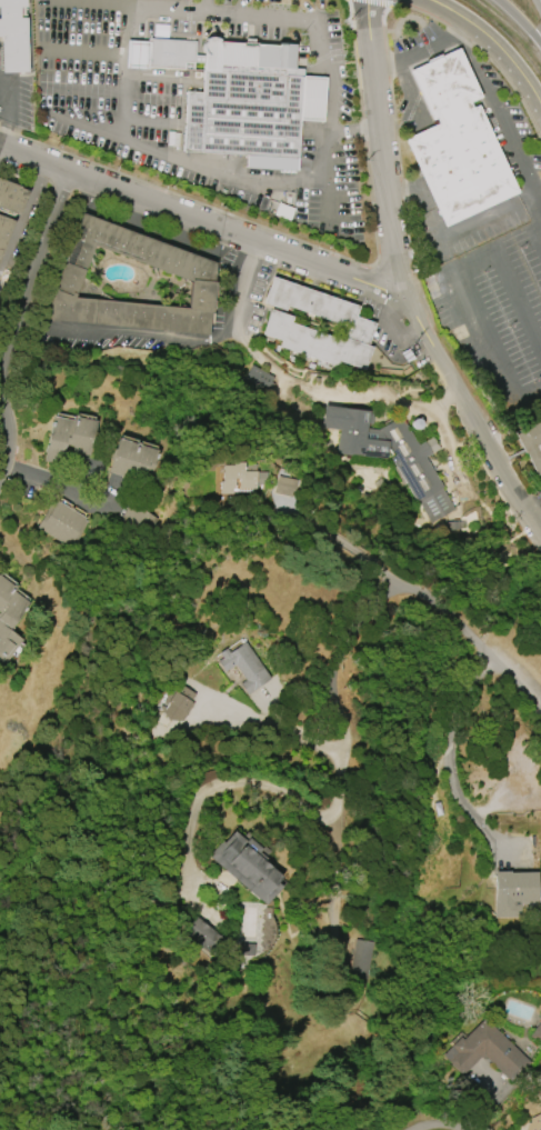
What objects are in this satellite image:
road: (100, 1)
road: (202, 4)
road: (163, 6)
road: (520, 21)
road: (309, 22)
building: (12, 37)
road: (494, 43)
road: (83, 48)
road: (475, 62)
road: (385, 64)
road: (121, 69)
road: (149, 73)
building: (251, 104)
road: (8, 111)
road: (150, 119)
road: (357, 126)
building: (455, 142)
road: (381, 150)
road: (208, 166)
road: (338, 187)
building: (11, 197)
road: (488, 214)
road: (24, 221)
building: (3, 230)
road: (311, 246)
road: (329, 271)
building: (130, 281)
road: (465, 294)
road: (18, 324)
building: (358, 324)
road: (182, 340)
building: (68, 437)
building: (531, 442)
building: (392, 454)
building: (131, 460)
building: (239, 477)
road: (58, 484)
building: (283, 486)
building: (539, 492)
building: (138, 519)
building: (61, 523)
road: (434, 611)
building: (8, 619)
building: (243, 666)
building: (176, 703)
road: (300, 732)
road: (445, 759)
road: (344, 761)
road: (223, 791)
building: (244, 867)
building: (513, 892)
building: (202, 936)
building: (361, 958)
building: (537, 1032)
building: (484, 1051)
building: (534, 1122)
road: (444, 1124)

